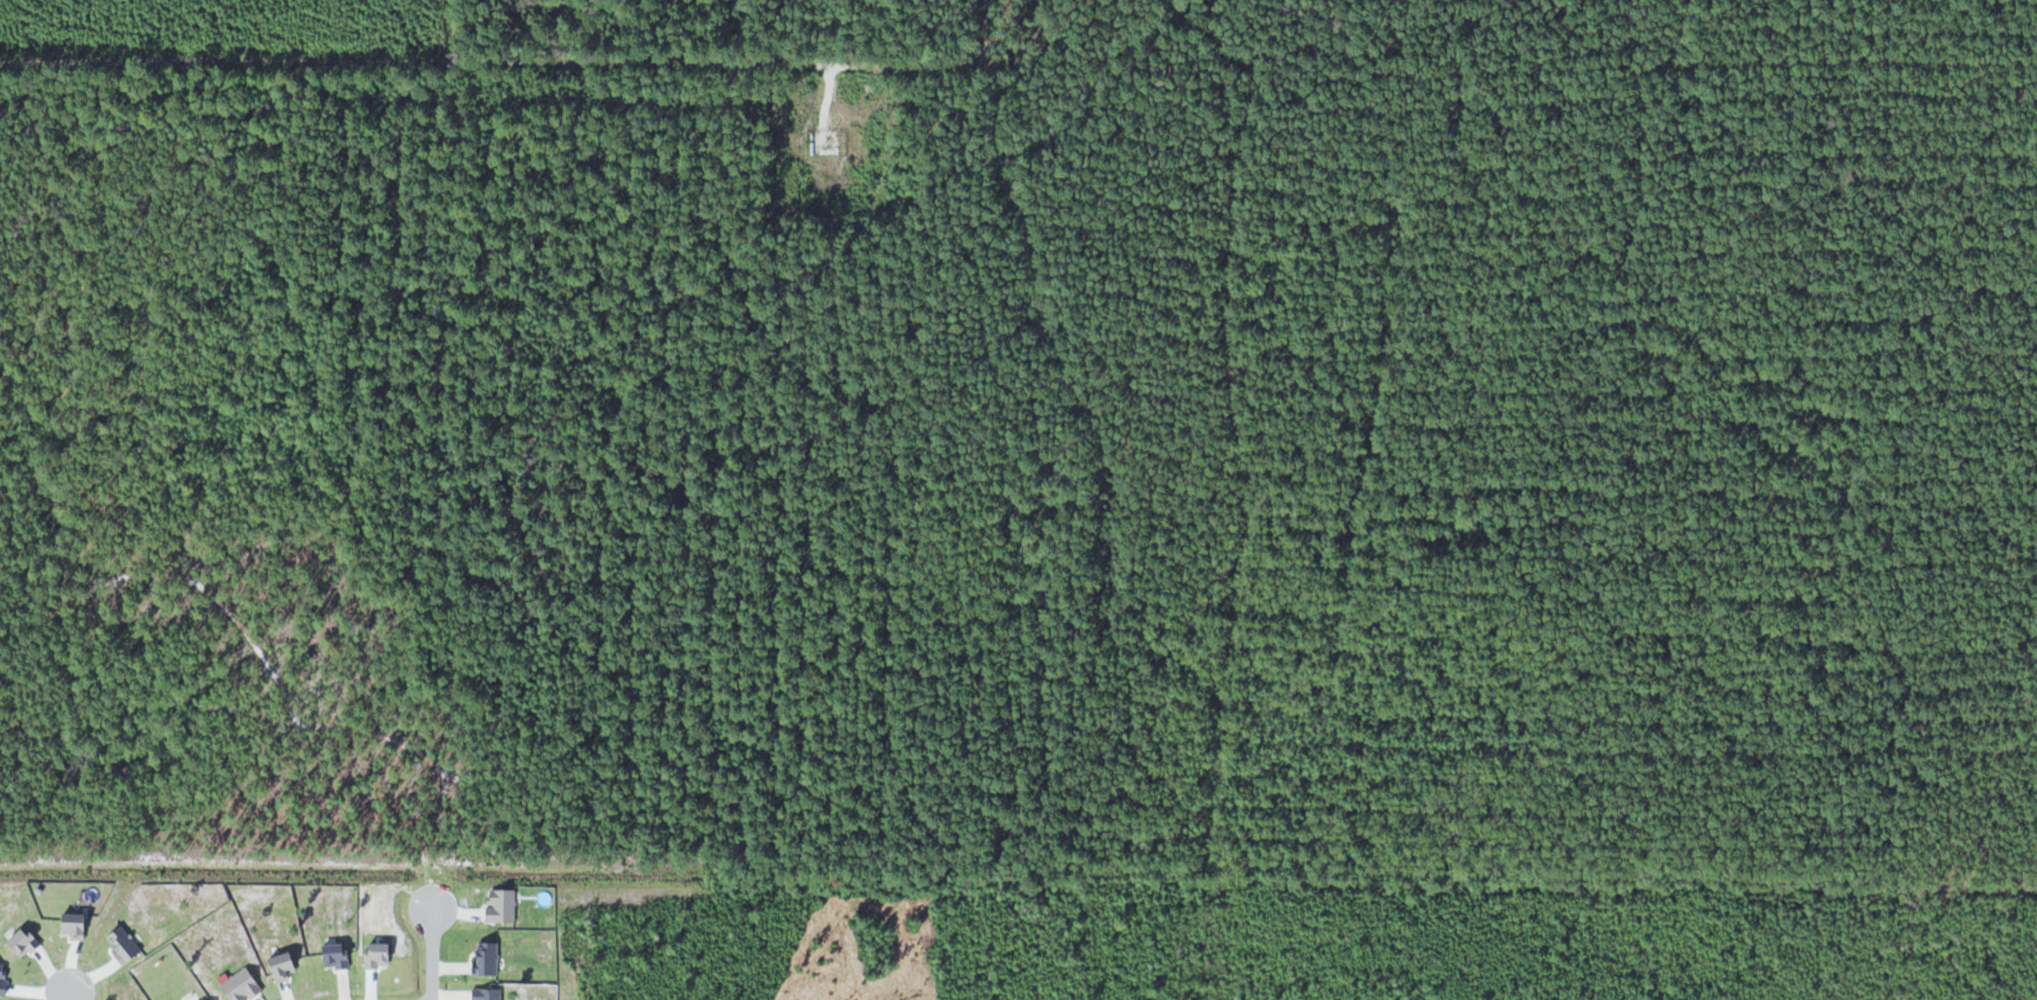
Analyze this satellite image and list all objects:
road: (435, 959)
road: (70, 995)

